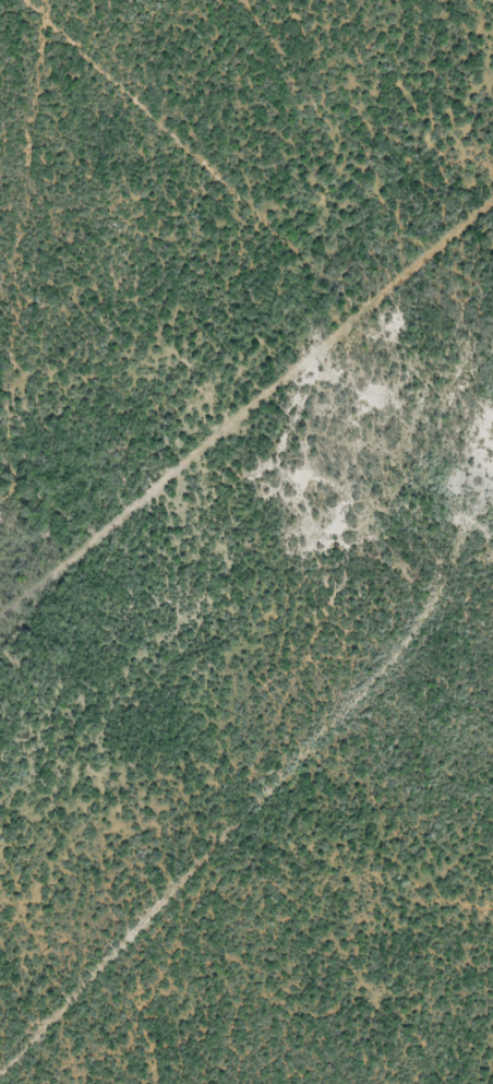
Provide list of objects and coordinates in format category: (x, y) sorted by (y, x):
road: (313, 884)

